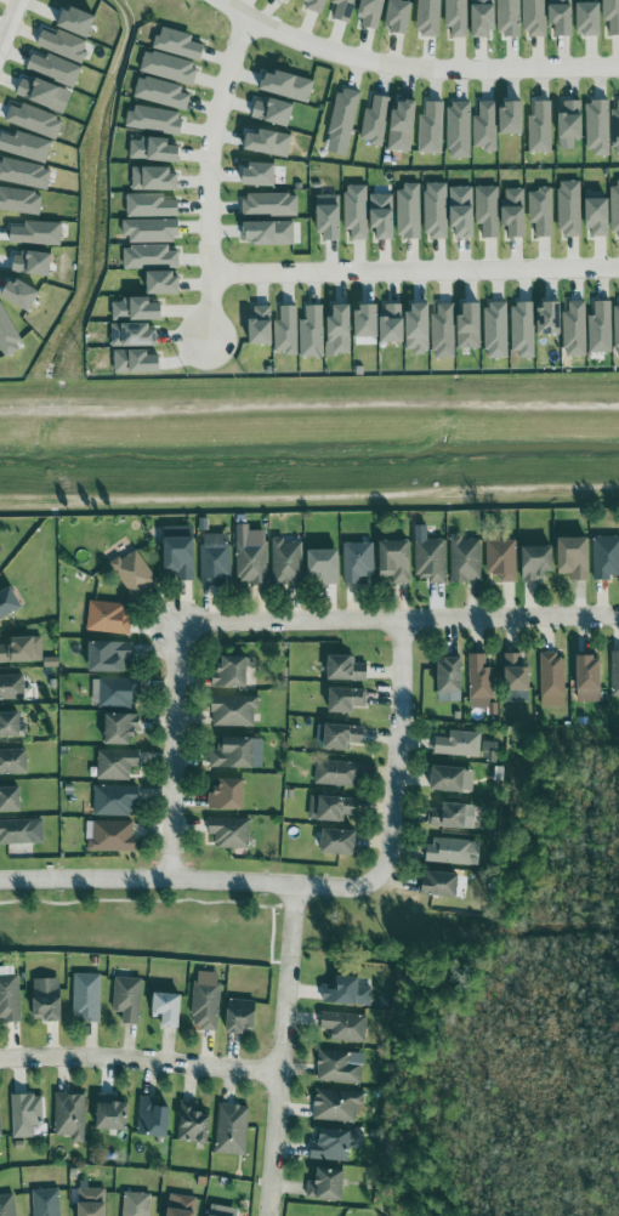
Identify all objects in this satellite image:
building: (294, 0)
building: (316, 5)
building: (343, 10)
building: (371, 13)
building: (398, 16)
building: (612, 16)
building: (458, 17)
building: (563, 17)
building: (428, 18)
building: (483, 18)
building: (509, 18)
building: (535, 18)
building: (589, 19)
road: (10, 22)
building: (78, 22)
building: (63, 45)
building: (178, 45)
road: (410, 66)
building: (169, 68)
building: (55, 69)
building: (288, 86)
building: (38, 92)
building: (161, 93)
building: (273, 112)
building: (343, 118)
building: (512, 118)
building: (155, 120)
building: (572, 120)
building: (35, 121)
building: (375, 121)
building: (403, 126)
building: (485, 127)
building: (597, 127)
building: (431, 129)
building: (540, 129)
building: (459, 131)
building: (615, 131)
building: (268, 143)
building: (25, 147)
building: (154, 150)
building: (24, 174)
building: (261, 175)
road: (209, 176)
building: (155, 180)
building: (19, 201)
building: (271, 205)
building: (151, 206)
building: (614, 208)
building: (569, 209)
building: (357, 211)
building: (436, 211)
building: (462, 211)
building: (488, 211)
building: (408, 212)
building: (515, 212)
building: (541, 212)
building: (597, 215)
building: (384, 216)
building: (329, 218)
building: (152, 231)
building: (269, 233)
building: (38, 234)
building: (151, 257)
building: (32, 265)
road: (415, 271)
building: (164, 284)
building: (21, 295)
building: (137, 311)
building: (550, 320)
building: (367, 323)
building: (393, 324)
building: (261, 325)
building: (419, 328)
building: (470, 328)
building: (601, 328)
building: (617, 329)
building: (341, 330)
building: (523, 330)
building: (575, 330)
building: (286, 331)
building: (443, 331)
building: (496, 331)
building: (312, 333)
building: (7, 335)
building: (135, 336)
building: (137, 363)
road: (309, 409)
river: (309, 445)
building: (180, 552)
building: (606, 556)
building: (574, 557)
building: (465, 558)
building: (396, 559)
building: (431, 559)
building: (502, 559)
building: (215, 561)
building: (358, 561)
building: (252, 562)
building: (286, 562)
building: (536, 562)
building: (325, 564)
building: (135, 574)
building: (8, 602)
building: (108, 616)
road: (399, 623)
building: (22, 649)
building: (110, 657)
building: (346, 667)
building: (232, 672)
building: (450, 675)
building: (614, 675)
building: (517, 678)
building: (589, 678)
building: (552, 681)
building: (481, 683)
building: (11, 687)
building: (115, 692)
building: (347, 699)
building: (233, 711)
building: (10, 723)
building: (121, 728)
building: (339, 735)
building: (459, 744)
building: (489, 749)
building: (237, 752)
road: (397, 752)
road: (177, 757)
building: (12, 761)
building: (117, 763)
building: (336, 773)
building: (449, 778)
building: (228, 795)
building: (10, 799)
building: (114, 800)
building: (333, 807)
building: (449, 816)
building: (21, 831)
building: (231, 833)
building: (110, 836)
building: (340, 841)
building: (449, 851)
road: (188, 882)
building: (438, 883)
building: (346, 990)
building: (8, 994)
building: (86, 996)
building: (47, 999)
building: (127, 999)
building: (205, 1005)
building: (169, 1008)
building: (242, 1016)
building: (345, 1025)
road: (286, 1051)
road: (142, 1061)
building: (340, 1066)
building: (337, 1106)
building: (25, 1114)
building: (112, 1114)
building: (69, 1115)
building: (153, 1118)
building: (192, 1124)
building: (0, 1127)
building: (232, 1129)
building: (336, 1144)
building: (328, 1184)
building: (92, 1201)
building: (46, 1203)
building: (136, 1204)
building: (7, 1205)
building: (182, 1205)
building: (223, 1211)

